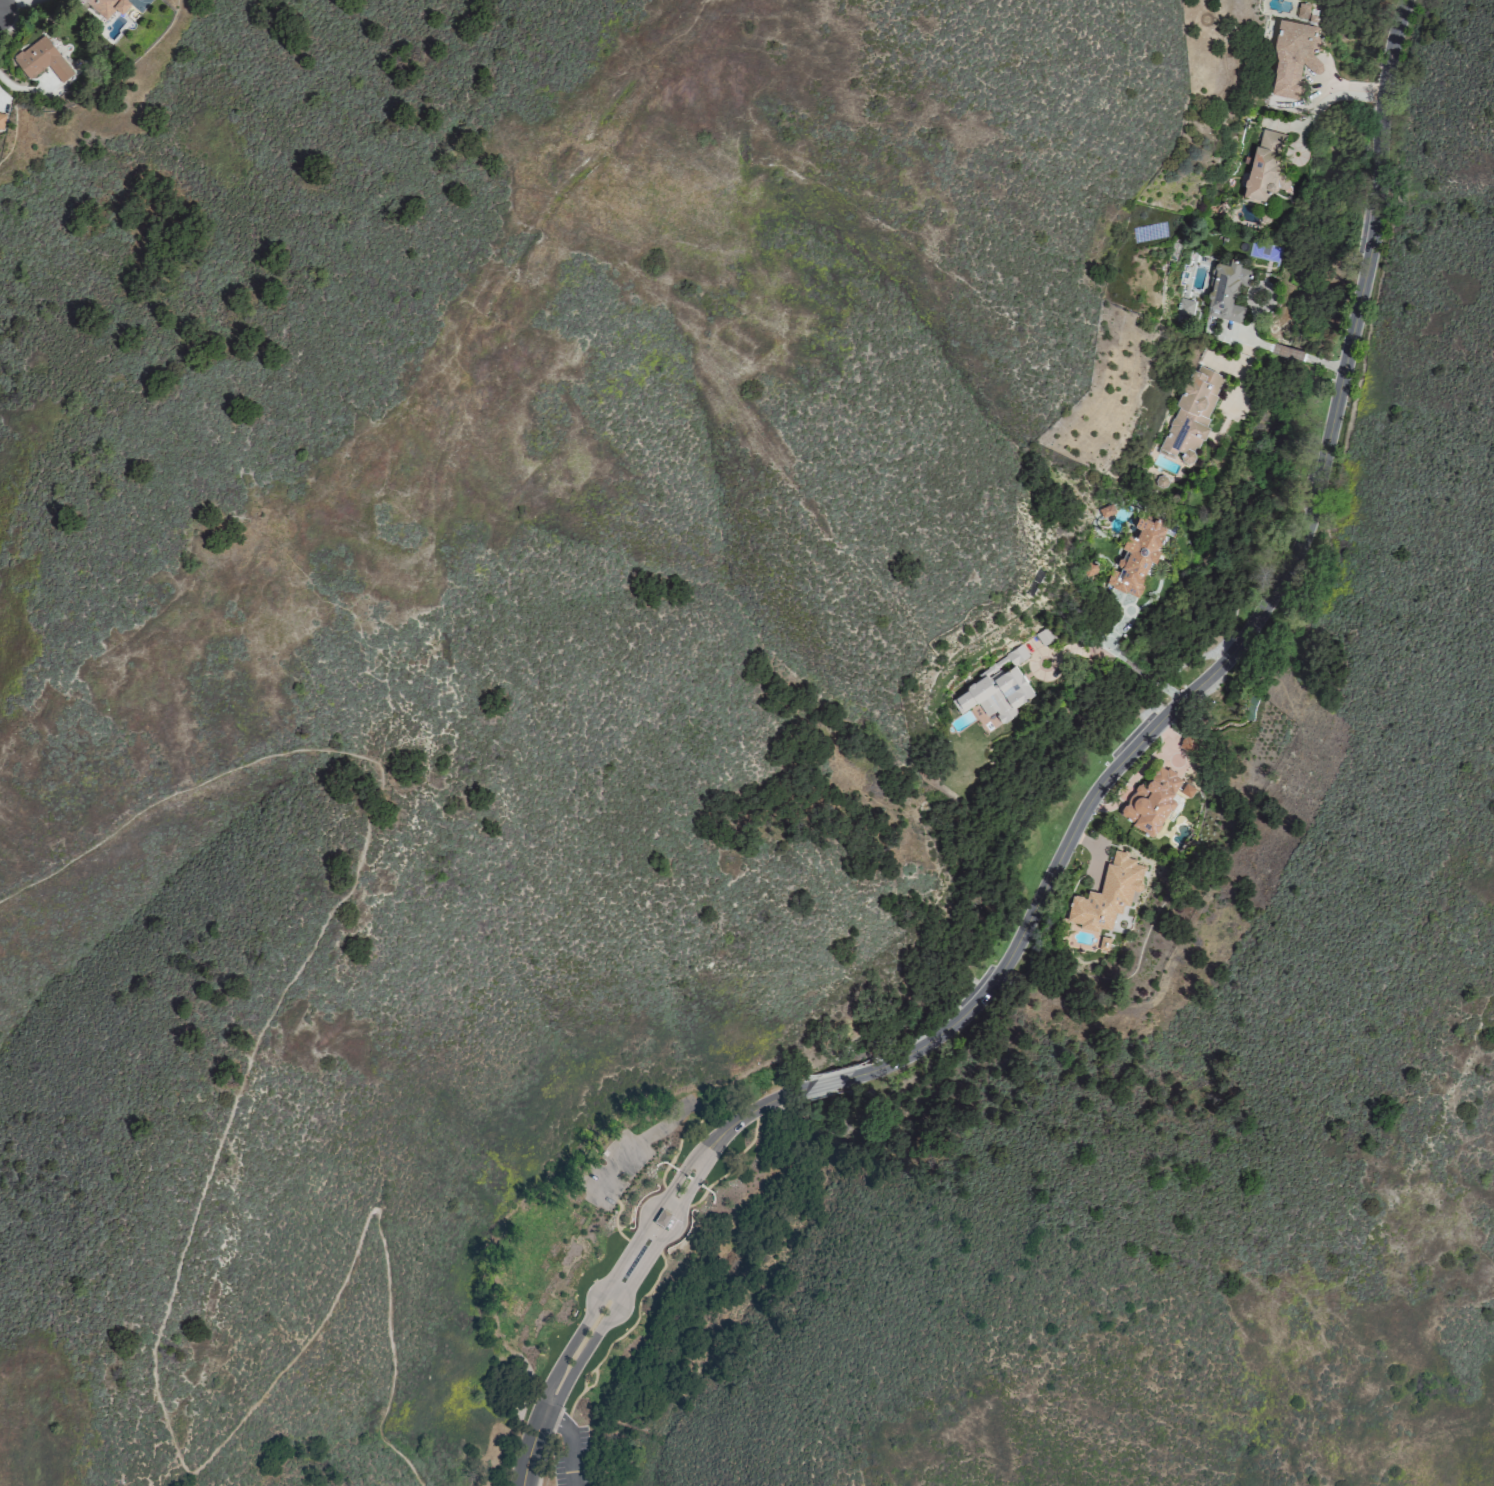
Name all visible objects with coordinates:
road: (12, 3)
building: (107, 6)
building: (1302, 11)
building: (1294, 57)
building: (41, 59)
building: (1, 120)
building: (1265, 168)
building: (1227, 290)
building: (1185, 311)
road: (1249, 338)
road: (1288, 351)
road: (1331, 365)
building: (1191, 415)
building: (1106, 511)
building: (1136, 558)
road: (1261, 615)
building: (1044, 636)
road: (1131, 664)
road: (1179, 668)
building: (995, 690)
building: (1187, 744)
building: (1154, 801)
building: (1107, 895)
road: (828, 1085)
road: (750, 1112)
road: (650, 1135)
road: (693, 1163)
road: (699, 1167)
parking lot: (613, 1170)
road: (198, 1205)
building: (661, 1217)
road: (622, 1220)
road: (678, 1229)
road: (611, 1300)
road: (587, 1322)
road: (604, 1328)
road: (575, 1447)
road: (505, 1464)

